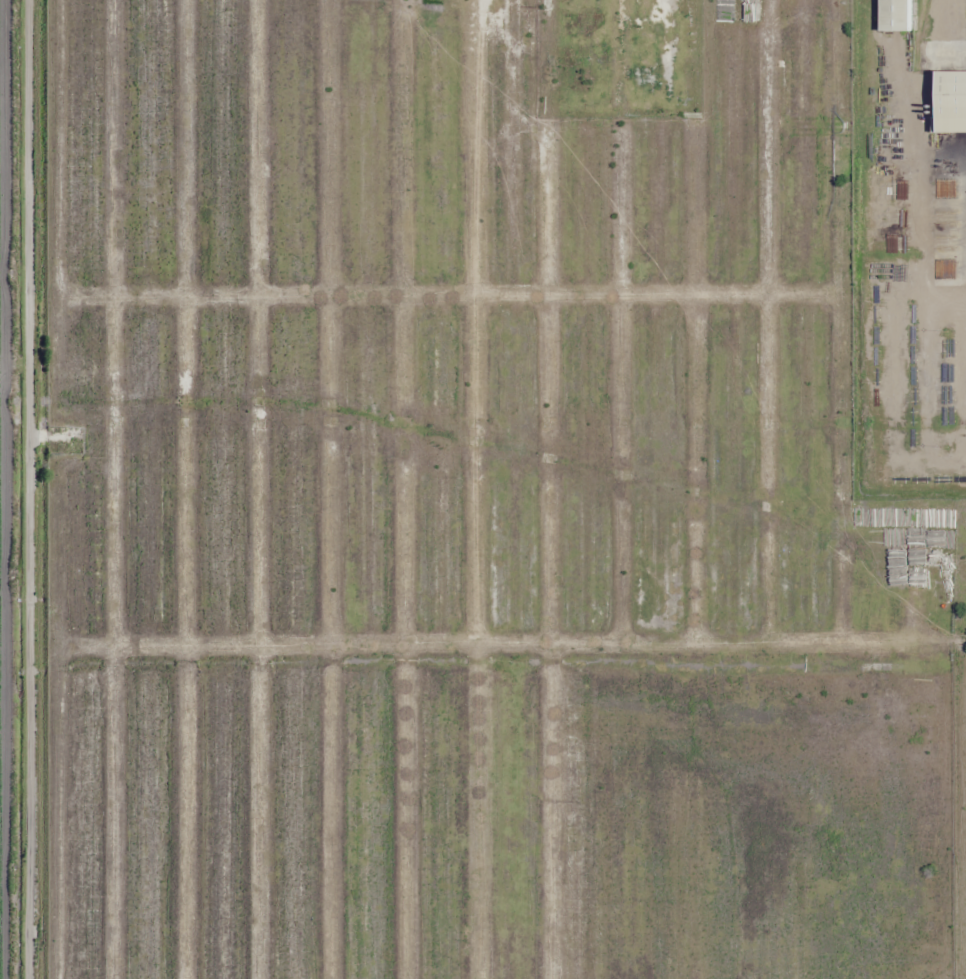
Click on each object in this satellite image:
building: (900, 16)
building: (955, 101)
road: (33, 489)

